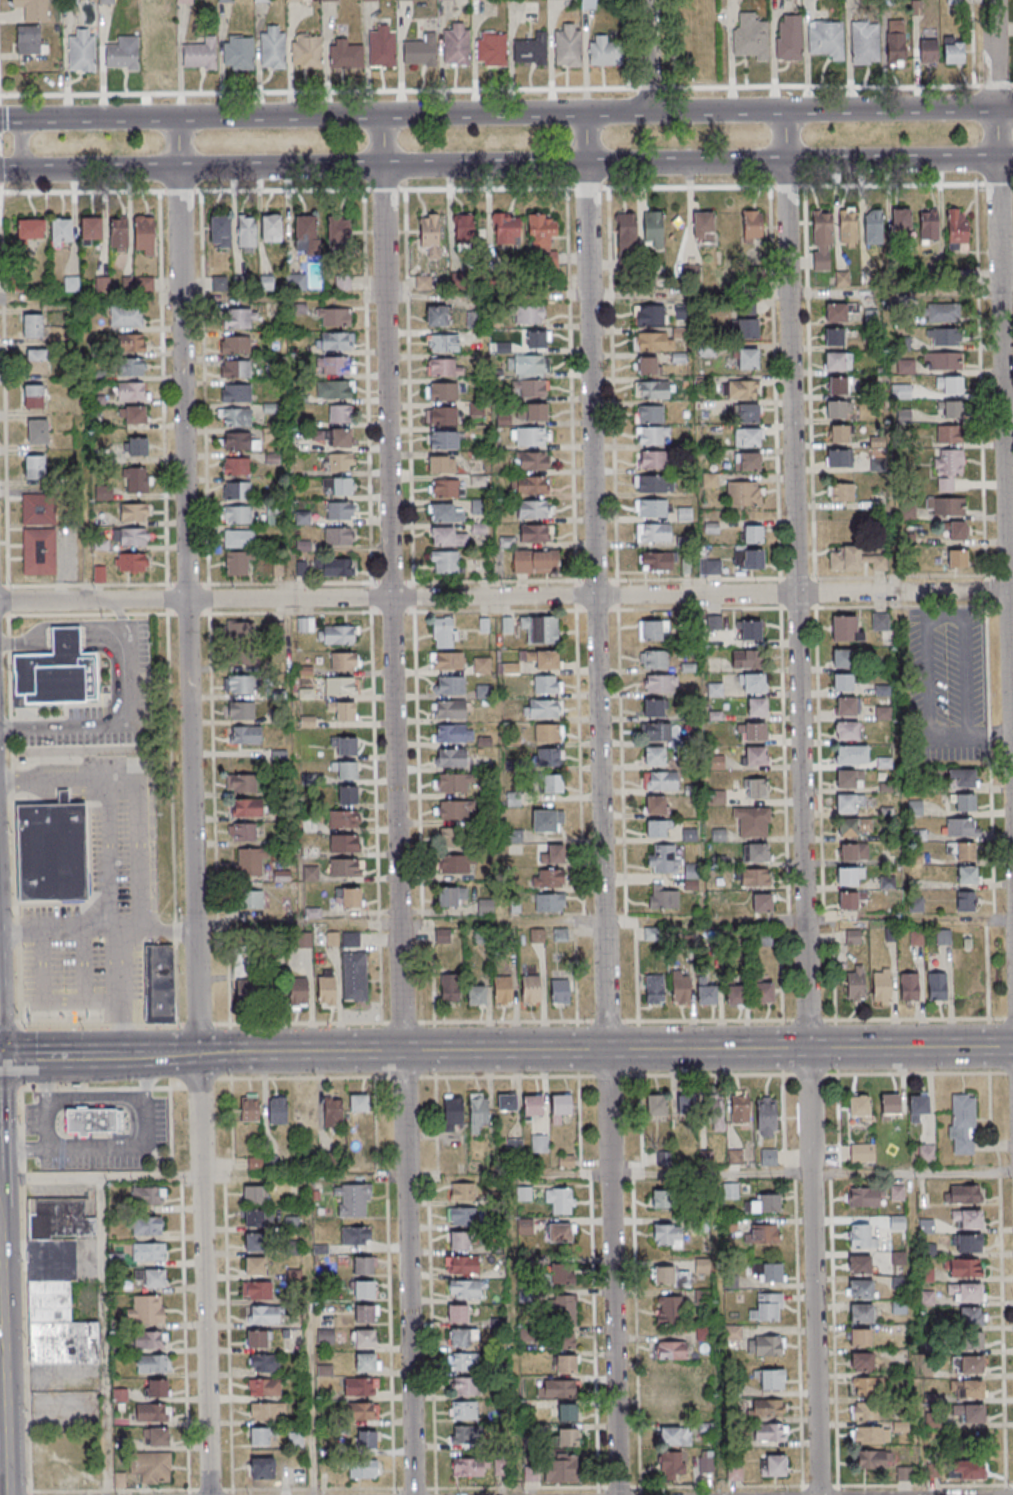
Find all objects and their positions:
building: (225, 0)
building: (262, 0)
building: (297, 0)
building: (330, 0)
building: (106, 1)
building: (589, 5)
building: (33, 9)
building: (750, 37)
building: (788, 38)
building: (826, 39)
building: (30, 40)
building: (895, 40)
building: (864, 44)
building: (382, 45)
building: (457, 45)
building: (568, 45)
building: (272, 47)
building: (491, 49)
building: (928, 49)
building: (82, 50)
building: (531, 50)
building: (306, 51)
building: (420, 51)
building: (603, 51)
building: (953, 51)
building: (238, 52)
building: (345, 54)
building: (122, 55)
building: (200, 55)
road: (647, 56)
road: (2, 96)
road: (506, 113)
road: (19, 144)
road: (506, 164)
road: (506, 188)
road: (0, 205)
building: (900, 219)
building: (928, 224)
building: (703, 226)
building: (752, 226)
building: (872, 226)
building: (652, 227)
building: (847, 227)
building: (271, 228)
building: (506, 228)
building: (31, 229)
building: (339, 229)
building: (464, 229)
building: (90, 230)
building: (957, 230)
building: (60, 231)
building: (220, 231)
building: (430, 233)
building: (119, 234)
building: (143, 234)
building: (247, 234)
building: (542, 234)
building: (626, 234)
building: (306, 236)
building: (821, 240)
building: (295, 281)
building: (457, 281)
building: (423, 282)
building: (853, 307)
building: (836, 312)
building: (943, 313)
building: (528, 314)
building: (126, 316)
building: (333, 316)
building: (649, 316)
building: (239, 317)
building: (474, 319)
building: (32, 325)
building: (747, 328)
building: (834, 336)
building: (944, 337)
building: (537, 339)
building: (336, 341)
building: (651, 341)
building: (130, 342)
building: (442, 342)
building: (235, 344)
building: (746, 358)
building: (837, 360)
building: (942, 361)
building: (36, 362)
building: (336, 365)
building: (527, 365)
building: (646, 365)
building: (905, 366)
building: (130, 367)
building: (444, 367)
building: (236, 368)
building: (949, 384)
building: (837, 385)
building: (529, 388)
building: (742, 388)
building: (335, 389)
building: (652, 389)
building: (132, 391)
building: (444, 391)
building: (901, 391)
building: (236, 392)
building: (33, 396)
road: (1002, 399)
road: (4, 407)
building: (835, 408)
building: (952, 409)
building: (532, 412)
building: (340, 413)
building: (650, 413)
building: (746, 413)
building: (133, 415)
building: (441, 415)
building: (234, 416)
road: (1008, 421)
building: (37, 431)
building: (838, 433)
building: (652, 434)
building: (949, 434)
building: (530, 436)
building: (341, 438)
building: (747, 438)
building: (443, 439)
building: (239, 441)
building: (137, 445)
building: (838, 457)
building: (651, 459)
building: (531, 460)
building: (340, 461)
building: (748, 462)
building: (442, 464)
building: (236, 466)
building: (34, 467)
building: (949, 468)
building: (477, 473)
building: (137, 480)
building: (709, 480)
building: (653, 483)
building: (529, 485)
building: (337, 486)
building: (447, 488)
building: (236, 491)
building: (841, 492)
building: (744, 494)
building: (479, 506)
building: (948, 506)
building: (652, 508)
building: (39, 509)
building: (533, 509)
building: (340, 511)
building: (133, 512)
building: (446, 512)
building: (684, 514)
building: (236, 516)
building: (957, 530)
building: (653, 532)
building: (534, 533)
building: (753, 535)
building: (339, 536)
building: (448, 536)
building: (130, 537)
building: (238, 539)
building: (39, 551)
building: (844, 558)
building: (957, 558)
building: (748, 559)
building: (444, 561)
building: (536, 561)
building: (656, 561)
building: (132, 563)
building: (238, 563)
building: (879, 563)
building: (336, 567)
building: (713, 567)
road: (3, 586)
road: (1010, 591)
road: (504, 596)
road: (6, 601)
road: (698, 608)
road: (496, 610)
road: (118, 611)
road: (285, 612)
building: (880, 621)
road: (929, 622)
road: (55, 624)
building: (305, 624)
building: (846, 629)
building: (241, 630)
building: (540, 630)
building: (653, 630)
building: (748, 630)
building: (445, 632)
building: (337, 634)
building: (244, 656)
building: (842, 658)
building: (544, 659)
building: (653, 659)
building: (742, 659)
building: (449, 660)
building: (344, 661)
building: (481, 665)
building: (57, 672)
building: (842, 682)
building: (660, 683)
building: (752, 683)
building: (240, 684)
building: (546, 684)
parking lot: (946, 684)
building: (341, 685)
building: (449, 685)
building: (483, 691)
building: (845, 706)
building: (653, 707)
building: (756, 707)
building: (448, 709)
building: (548, 709)
building: (343, 710)
building: (240, 711)
building: (882, 713)
road: (115, 726)
building: (846, 730)
building: (656, 731)
building: (753, 731)
building: (453, 733)
building: (549, 733)
building: (244, 734)
road: (990, 734)
road: (170, 738)
building: (344, 745)
building: (851, 754)
building: (653, 755)
building: (754, 756)
building: (451, 757)
building: (549, 757)
building: (884, 762)
building: (345, 769)
building: (962, 778)
building: (845, 779)
building: (660, 781)
building: (453, 782)
building: (241, 783)
building: (550, 783)
building: (756, 788)
building: (347, 794)
building: (848, 802)
building: (962, 802)
road: (801, 803)
road: (600, 804)
road: (396, 805)
building: (654, 805)
road: (191, 806)
building: (246, 807)
building: (455, 810)
building: (343, 818)
road: (12, 820)
building: (547, 820)
building: (752, 821)
building: (854, 827)
building: (962, 827)
building: (655, 829)
building: (242, 831)
building: (515, 837)
building: (455, 838)
building: (345, 843)
building: (960, 850)
building: (50, 852)
building: (853, 852)
building: (755, 853)
road: (138, 855)
building: (553, 855)
building: (664, 859)
building: (251, 860)
building: (454, 864)
building: (346, 867)
building: (281, 870)
building: (311, 873)
building: (967, 874)
building: (848, 875)
building: (754, 877)
building: (549, 879)
building: (450, 895)
building: (349, 897)
building: (251, 899)
building: (663, 899)
building: (847, 900)
building: (966, 901)
building: (550, 903)
building: (762, 903)
building: (485, 911)
road: (501, 922)
road: (167, 929)
building: (442, 936)
building: (351, 938)
building: (354, 975)
building: (855, 983)
building: (159, 984)
building: (881, 985)
building: (909, 986)
building: (937, 986)
building: (449, 987)
building: (680, 987)
building: (530, 988)
building: (325, 989)
building: (502, 989)
building: (654, 989)
road: (116, 990)
building: (248, 991)
building: (297, 991)
building: (560, 991)
building: (763, 993)
building: (735, 994)
building: (476, 995)
building: (707, 995)
building: (359, 1012)
road: (825, 1019)
road: (497, 1021)
road: (607, 1021)
road: (302, 1022)
road: (403, 1022)
road: (198, 1023)
road: (99, 1024)
road: (8, 1025)
road: (578, 1050)
road: (230, 1051)
road: (20, 1055)
road: (72, 1056)
road: (915, 1072)
road: (1008, 1072)
road: (811, 1073)
road: (710, 1074)
road: (507, 1075)
road: (608, 1075)
road: (302, 1076)
road: (403, 1076)
road: (145, 1077)
road: (200, 1078)
road: (175, 1084)
road: (93, 1087)
road: (9, 1089)
road: (96, 1099)
building: (507, 1101)
building: (358, 1103)
building: (656, 1104)
building: (685, 1104)
building: (889, 1105)
building: (531, 1106)
building: (859, 1106)
building: (917, 1106)
building: (559, 1107)
building: (248, 1109)
building: (452, 1109)
building: (277, 1110)
building: (739, 1110)
building: (332, 1112)
building: (477, 1113)
building: (716, 1114)
building: (766, 1115)
building: (92, 1123)
building: (962, 1123)
road: (47, 1127)
road: (171, 1136)
building: (540, 1143)
road: (119, 1149)
building: (862, 1152)
building: (925, 1155)
building: (768, 1157)
building: (663, 1160)
building: (263, 1161)
road: (912, 1172)
road: (710, 1173)
road: (559, 1175)
road: (202, 1176)
building: (463, 1191)
building: (730, 1191)
building: (897, 1192)
building: (523, 1193)
building: (255, 1194)
building: (963, 1194)
building: (148, 1195)
building: (865, 1196)
building: (560, 1199)
building: (662, 1199)
building: (352, 1200)
building: (764, 1202)
building: (462, 1216)
building: (255, 1217)
building: (966, 1218)
building: (897, 1222)
building: (146, 1226)
building: (560, 1233)
building: (762, 1233)
building: (355, 1235)
building: (667, 1235)
building: (860, 1236)
building: (459, 1240)
building: (254, 1242)
building: (967, 1243)
building: (149, 1251)
building: (898, 1258)
building: (461, 1264)
building: (858, 1264)
building: (362, 1265)
building: (255, 1266)
building: (702, 1267)
building: (963, 1268)
building: (560, 1274)
building: (771, 1274)
building: (293, 1275)
building: (671, 1276)
road: (1001, 1277)
building: (150, 1278)
building: (57, 1283)
road: (227, 1284)
road: (24, 1287)
building: (465, 1288)
building: (256, 1289)
building: (362, 1290)
building: (860, 1290)
building: (965, 1292)
building: (928, 1298)
building: (898, 1307)
building: (767, 1308)
building: (560, 1309)
building: (670, 1309)
building: (146, 1310)
building: (861, 1312)
building: (457, 1313)
building: (263, 1314)
building: (365, 1314)
building: (971, 1316)
building: (732, 1333)
road: (103, 1335)
road: (307, 1335)
road: (511, 1335)
road: (184, 1336)
building: (859, 1337)
building: (259, 1338)
building: (365, 1338)
building: (463, 1338)
building: (563, 1339)
building: (150, 1340)
building: (969, 1341)
building: (764, 1346)
building: (670, 1350)
building: (861, 1361)
building: (264, 1362)
building: (367, 1362)
building: (462, 1362)
building: (151, 1363)
building: (565, 1363)
building: (968, 1366)
road: (3, 1369)
building: (770, 1380)
building: (867, 1385)
building: (359, 1386)
building: (156, 1387)
building: (265, 1387)
building: (465, 1387)
building: (556, 1388)
building: (967, 1390)
building: (763, 1408)
building: (868, 1410)
building: (266, 1411)
building: (360, 1411)
building: (463, 1412)
building: (566, 1412)
building: (152, 1413)
building: (968, 1415)
building: (769, 1432)
building: (870, 1434)
building: (464, 1435)
building: (675, 1435)
building: (260, 1436)
building: (157, 1437)
building: (568, 1437)
building: (367, 1440)
building: (870, 1459)
building: (705, 1462)
building: (673, 1464)
building: (773, 1465)
building: (151, 1468)
building: (262, 1468)
building: (467, 1468)
building: (500, 1468)
building: (363, 1469)
building: (560, 1469)
building: (967, 1470)
building: (903, 1474)
building: (119, 1484)
road: (1005, 1485)
road: (17, 1490)
road: (188, 1491)

